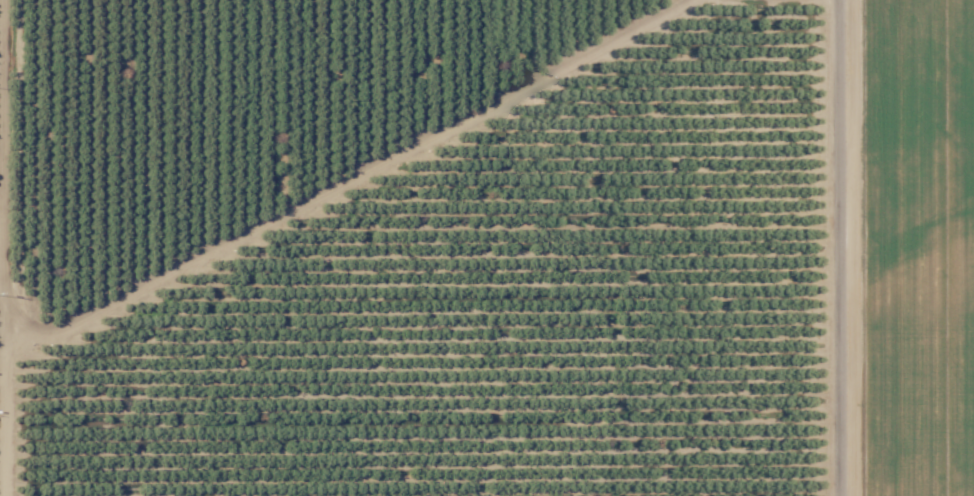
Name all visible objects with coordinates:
crop: (216, 113)
road: (836, 248)
crop: (915, 248)
crop: (6, 431)

